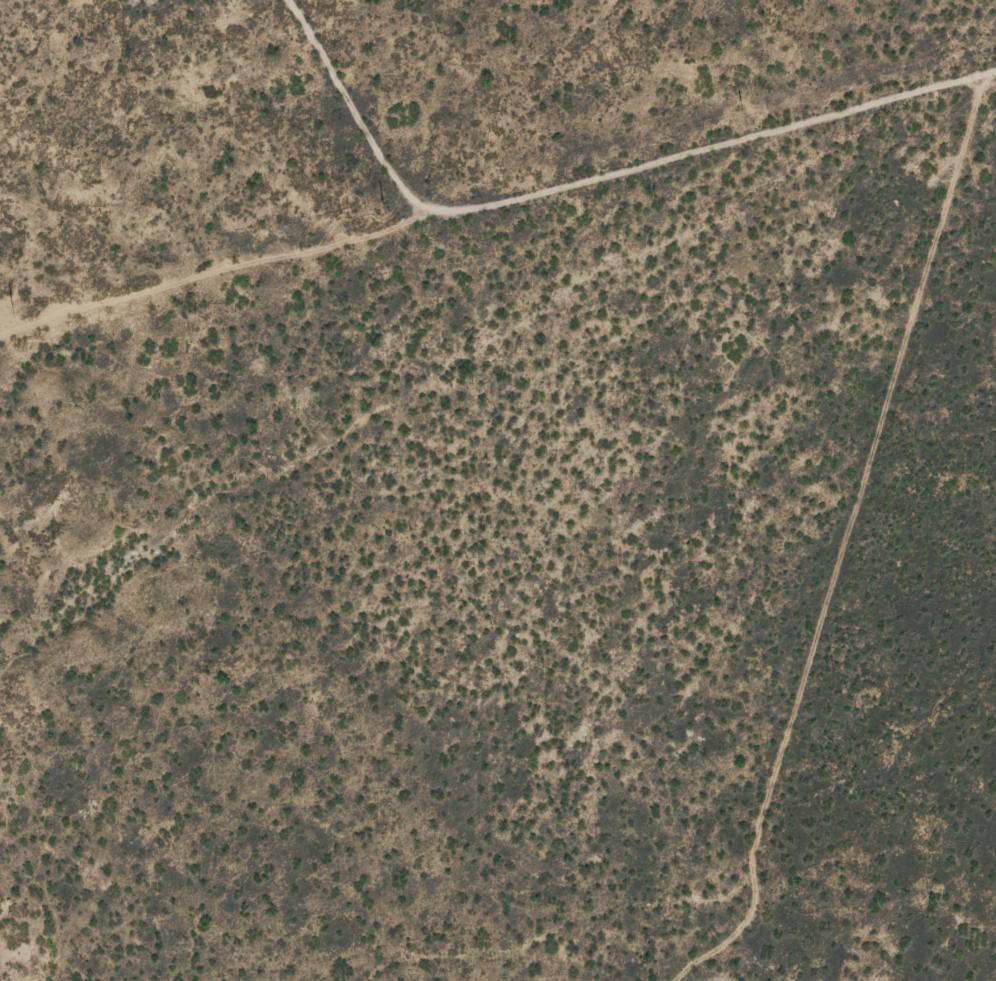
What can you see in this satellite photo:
power tower: (740, 109)
power tower: (382, 207)
power tower: (11, 309)

